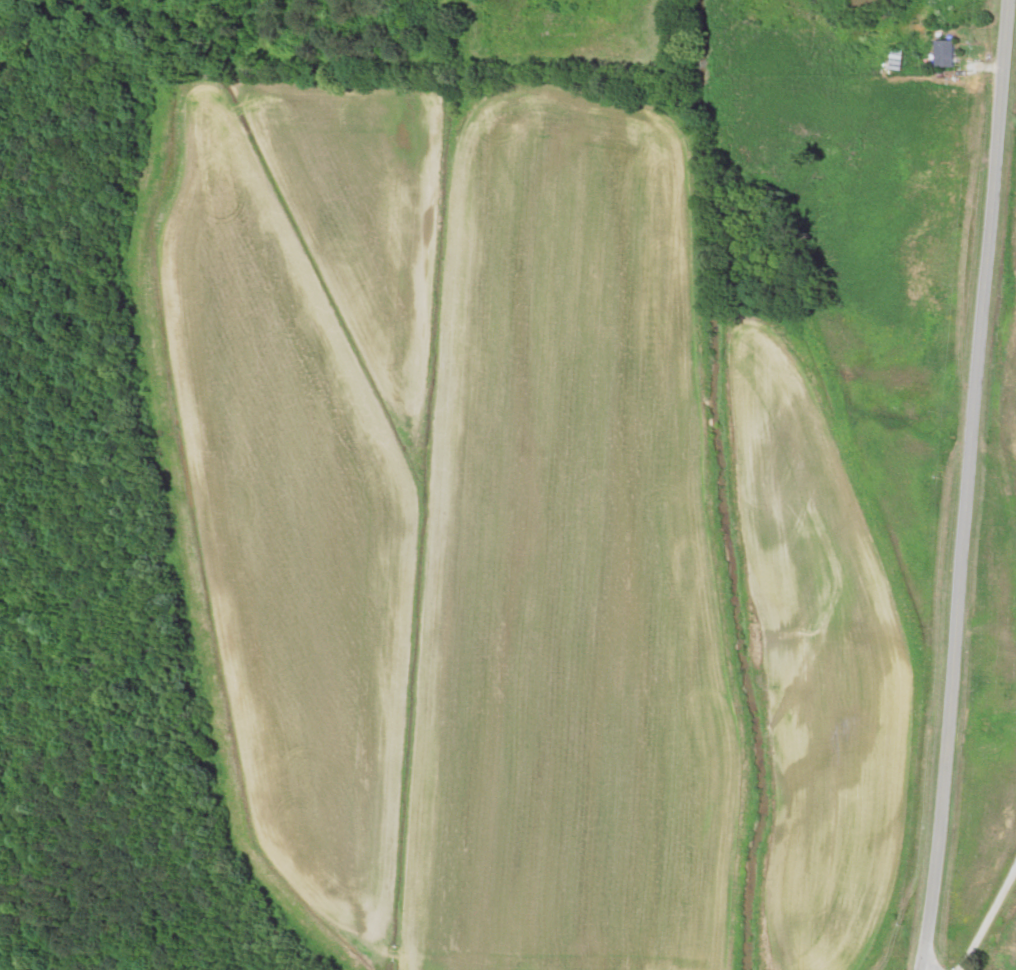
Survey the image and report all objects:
building: (954, 52)
building: (907, 58)
road: (945, 485)
road: (982, 915)

